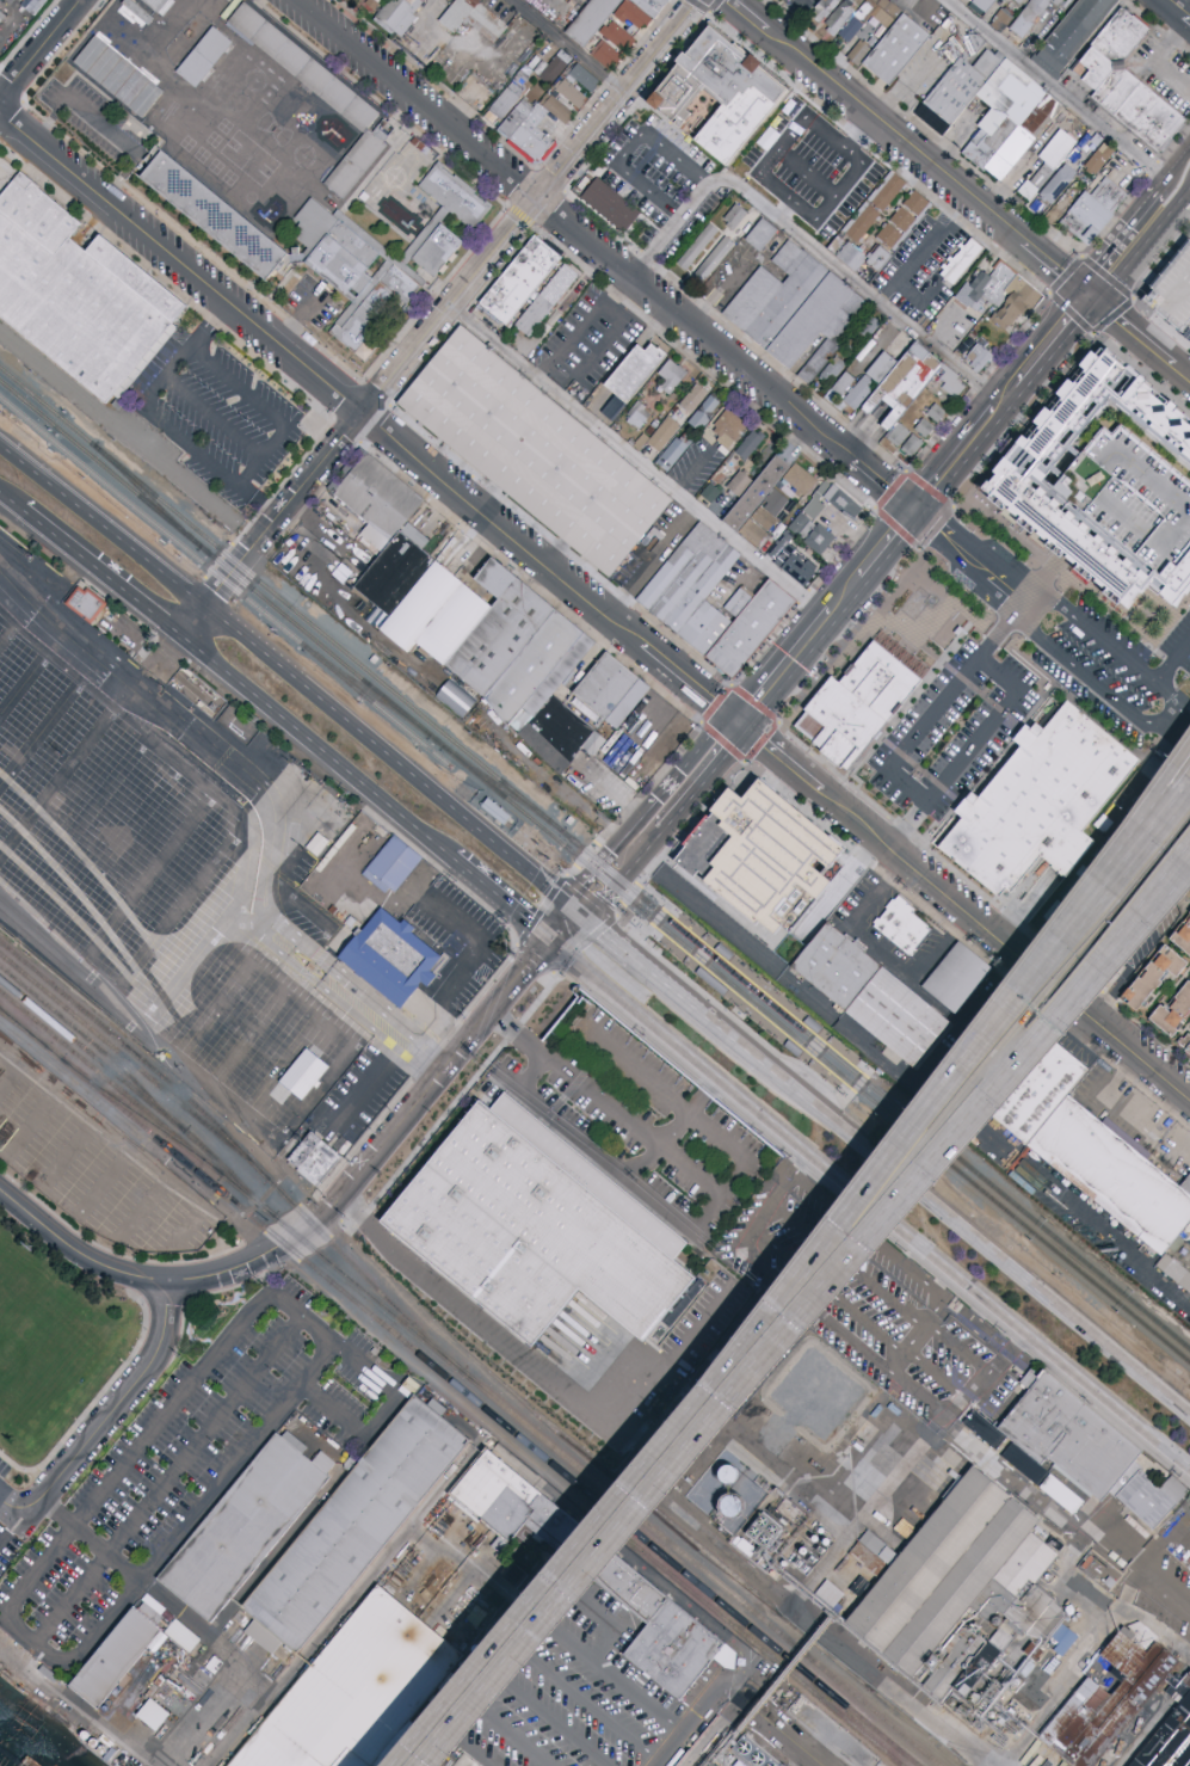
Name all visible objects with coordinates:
road: (82, 1)
building: (383, 1)
building: (418, 1)
building: (1019, 1)
building: (1060, 1)
building: (158, 5)
building: (1041, 5)
building: (982, 6)
building: (824, 10)
building: (636, 12)
road: (1174, 12)
building: (135, 14)
building: (2, 18)
building: (477, 19)
building: (592, 19)
building: (859, 19)
building: (1000, 19)
road: (1159, 25)
building: (1022, 27)
building: (1072, 35)
building: (609, 43)
road: (568, 45)
building: (894, 49)
road: (43, 51)
building: (206, 59)
road: (1160, 60)
building: (549, 66)
building: (1124, 84)
building: (576, 86)
building: (118, 88)
building: (316, 93)
building: (719, 93)
building: (957, 93)
road: (1056, 93)
building: (512, 105)
building: (555, 106)
building: (1007, 106)
building: (797, 122)
road: (101, 124)
building: (532, 135)
road: (906, 146)
road: (629, 148)
building: (1011, 153)
building: (1099, 159)
road: (753, 164)
building: (1042, 166)
building: (857, 180)
road: (988, 184)
road: (1182, 186)
building: (772, 187)
building: (1052, 187)
building: (456, 196)
building: (610, 205)
building: (875, 208)
building: (1090, 209)
building: (217, 210)
building: (735, 216)
building: (902, 220)
building: (824, 221)
road: (1136, 226)
road: (1112, 230)
building: (760, 235)
road: (809, 245)
building: (697, 247)
road: (606, 250)
building: (715, 257)
building: (863, 257)
building: (961, 261)
building: (372, 271)
building: (514, 276)
building: (982, 288)
road: (1135, 288)
building: (1174, 291)
parking lot: (1174, 291)
building: (72, 294)
track: (72, 294)
traffic signals: (1084, 294)
building: (542, 299)
building: (1015, 303)
road: (600, 304)
building: (802, 313)
road: (1097, 326)
building: (867, 328)
road: (427, 334)
road: (1136, 337)
building: (974, 356)
building: (629, 370)
building: (671, 377)
building: (867, 381)
road: (979, 382)
building: (843, 384)
building: (951, 384)
building: (901, 386)
road: (995, 398)
building: (698, 406)
building: (936, 413)
building: (639, 414)
road: (366, 416)
road: (212, 417)
road: (1019, 418)
building: (727, 427)
building: (924, 429)
road: (130, 433)
building: (664, 433)
building: (636, 439)
building: (902, 439)
building: (750, 444)
building: (530, 449)
building: (673, 451)
road: (637, 459)
road: (214, 468)
road: (690, 470)
building: (797, 479)
building: (1103, 481)
building: (750, 490)
building: (710, 493)
railway: (146, 496)
road: (11, 503)
traffic signals: (912, 505)
building: (809, 515)
building: (764, 516)
railway: (152, 522)
building: (388, 529)
road: (919, 546)
railway: (214, 559)
building: (796, 565)
road: (100, 574)
building: (686, 585)
railway: (290, 593)
road: (547, 593)
road: (803, 597)
railway: (279, 599)
building: (85, 603)
road: (824, 611)
road: (1050, 620)
building: (746, 623)
building: (491, 635)
road: (849, 635)
road: (1173, 669)
road: (289, 676)
railway: (366, 691)
building: (456, 699)
building: (853, 702)
road: (939, 703)
railway: (376, 706)
building: (584, 710)
road: (1170, 713)
traffic signals: (736, 719)
building: (486, 720)
railway: (173, 726)
railway: (434, 742)
railway: (164, 747)
road: (315, 749)
road: (967, 751)
road: (745, 759)
railway: (156, 765)
railway: (150, 786)
railway: (501, 788)
building: (1036, 798)
railway: (146, 800)
railway: (140, 820)
road: (643, 831)
railway: (13, 835)
road: (273, 835)
railway: (134, 842)
building: (312, 844)
road: (1128, 844)
building: (758, 849)
railway: (6, 855)
building: (393, 862)
road: (1128, 862)
railway: (124, 875)
road: (1163, 879)
road: (1163, 885)
road: (499, 899)
railway: (666, 899)
road: (606, 907)
road: (702, 907)
road: (962, 909)
traffic signals: (575, 911)
road: (652, 921)
railway: (648, 922)
building: (907, 928)
building: (1183, 936)
railway: (50, 940)
traffic signals: (548, 941)
road: (646, 947)
road: (880, 949)
road: (199, 952)
road: (699, 953)
building: (387, 955)
railway: (73, 976)
building: (1153, 977)
building: (961, 980)
road: (665, 986)
road: (765, 987)
building: (877, 998)
road: (747, 1010)
building: (1174, 1011)
road: (430, 1013)
road: (383, 1021)
railway: (21, 1030)
road: (812, 1045)
building: (1185, 1045)
railway: (94, 1046)
railway: (815, 1054)
railway: (129, 1059)
building: (304, 1075)
railway: (875, 1090)
railway: (140, 1094)
building: (1041, 1097)
road: (606, 1103)
railway: (137, 1114)
road: (667, 1126)
road: (70, 1147)
railway: (238, 1147)
road: (381, 1149)
road: (136, 1151)
building: (313, 1158)
parking lot: (101, 1173)
building: (1114, 1177)
road: (107, 1179)
road: (770, 1200)
road: (868, 1204)
road: (146, 1205)
road: (703, 1220)
road: (190, 1223)
building: (528, 1233)
road: (973, 1242)
building: (1183, 1245)
road: (76, 1249)
building: (1169, 1268)
road: (880, 1288)
road: (828, 1291)
road: (300, 1316)
road: (923, 1323)
road: (485, 1329)
road: (689, 1331)
road: (787, 1336)
park: (42, 1340)
road: (738, 1349)
park: (50, 1350)
road: (354, 1365)
road: (892, 1373)
road: (937, 1374)
railway: (471, 1378)
railway: (460, 1387)
road: (95, 1399)
road: (327, 1401)
road: (105, 1417)
road: (943, 1420)
building: (1086, 1456)
parking lot: (2, 1469)
parking lot: (186, 1469)
road: (165, 1479)
parking lot: (4, 1489)
building: (714, 1490)
building: (1055, 1494)
building: (491, 1496)
road: (1046, 1508)
building: (791, 1515)
building: (354, 1522)
road: (10, 1525)
building: (241, 1527)
parking lot: (7, 1545)
parking lot: (2, 1564)
road: (1063, 1577)
building: (937, 1580)
road: (1170, 1589)
building: (1017, 1594)
road: (525, 1600)
railway: (707, 1601)
road: (174, 1606)
building: (181, 1636)
building: (658, 1638)
building: (1058, 1639)
road: (76, 1650)
building: (722, 1656)
building: (113, 1657)
road: (603, 1666)
road: (1077, 1666)
building: (356, 1693)
road: (575, 1700)
road: (907, 1700)
building: (1099, 1702)
road: (215, 1712)
road: (542, 1713)
building: (154, 1715)
road: (688, 1723)
road: (772, 1724)
road: (502, 1725)
building: (831, 1733)
road: (117, 1734)
pier: (26, 1740)
road: (465, 1740)
building: (1169, 1741)
building: (752, 1753)
building: (463, 1761)

